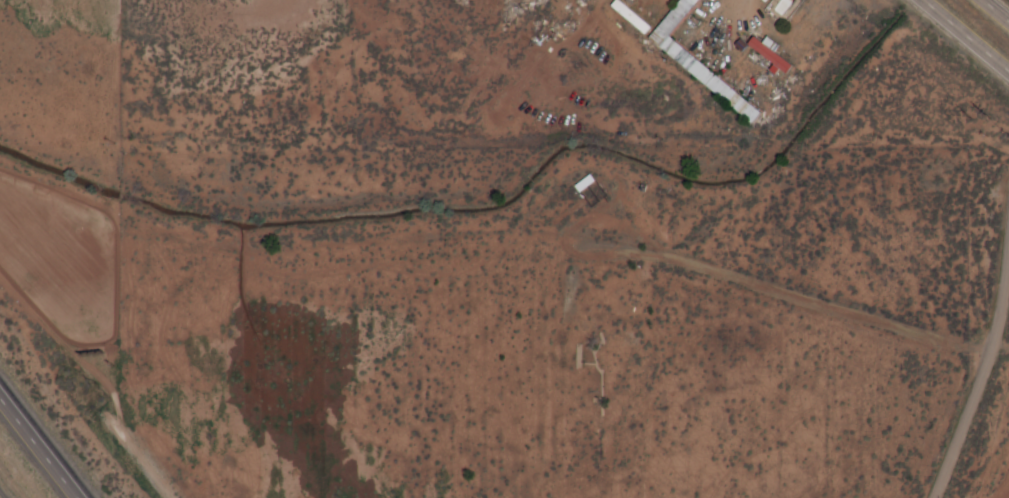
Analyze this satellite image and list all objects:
road: (996, 10)
road: (965, 36)
building: (765, 53)
building: (702, 76)
building: (583, 183)
road: (976, 387)
road: (39, 447)

